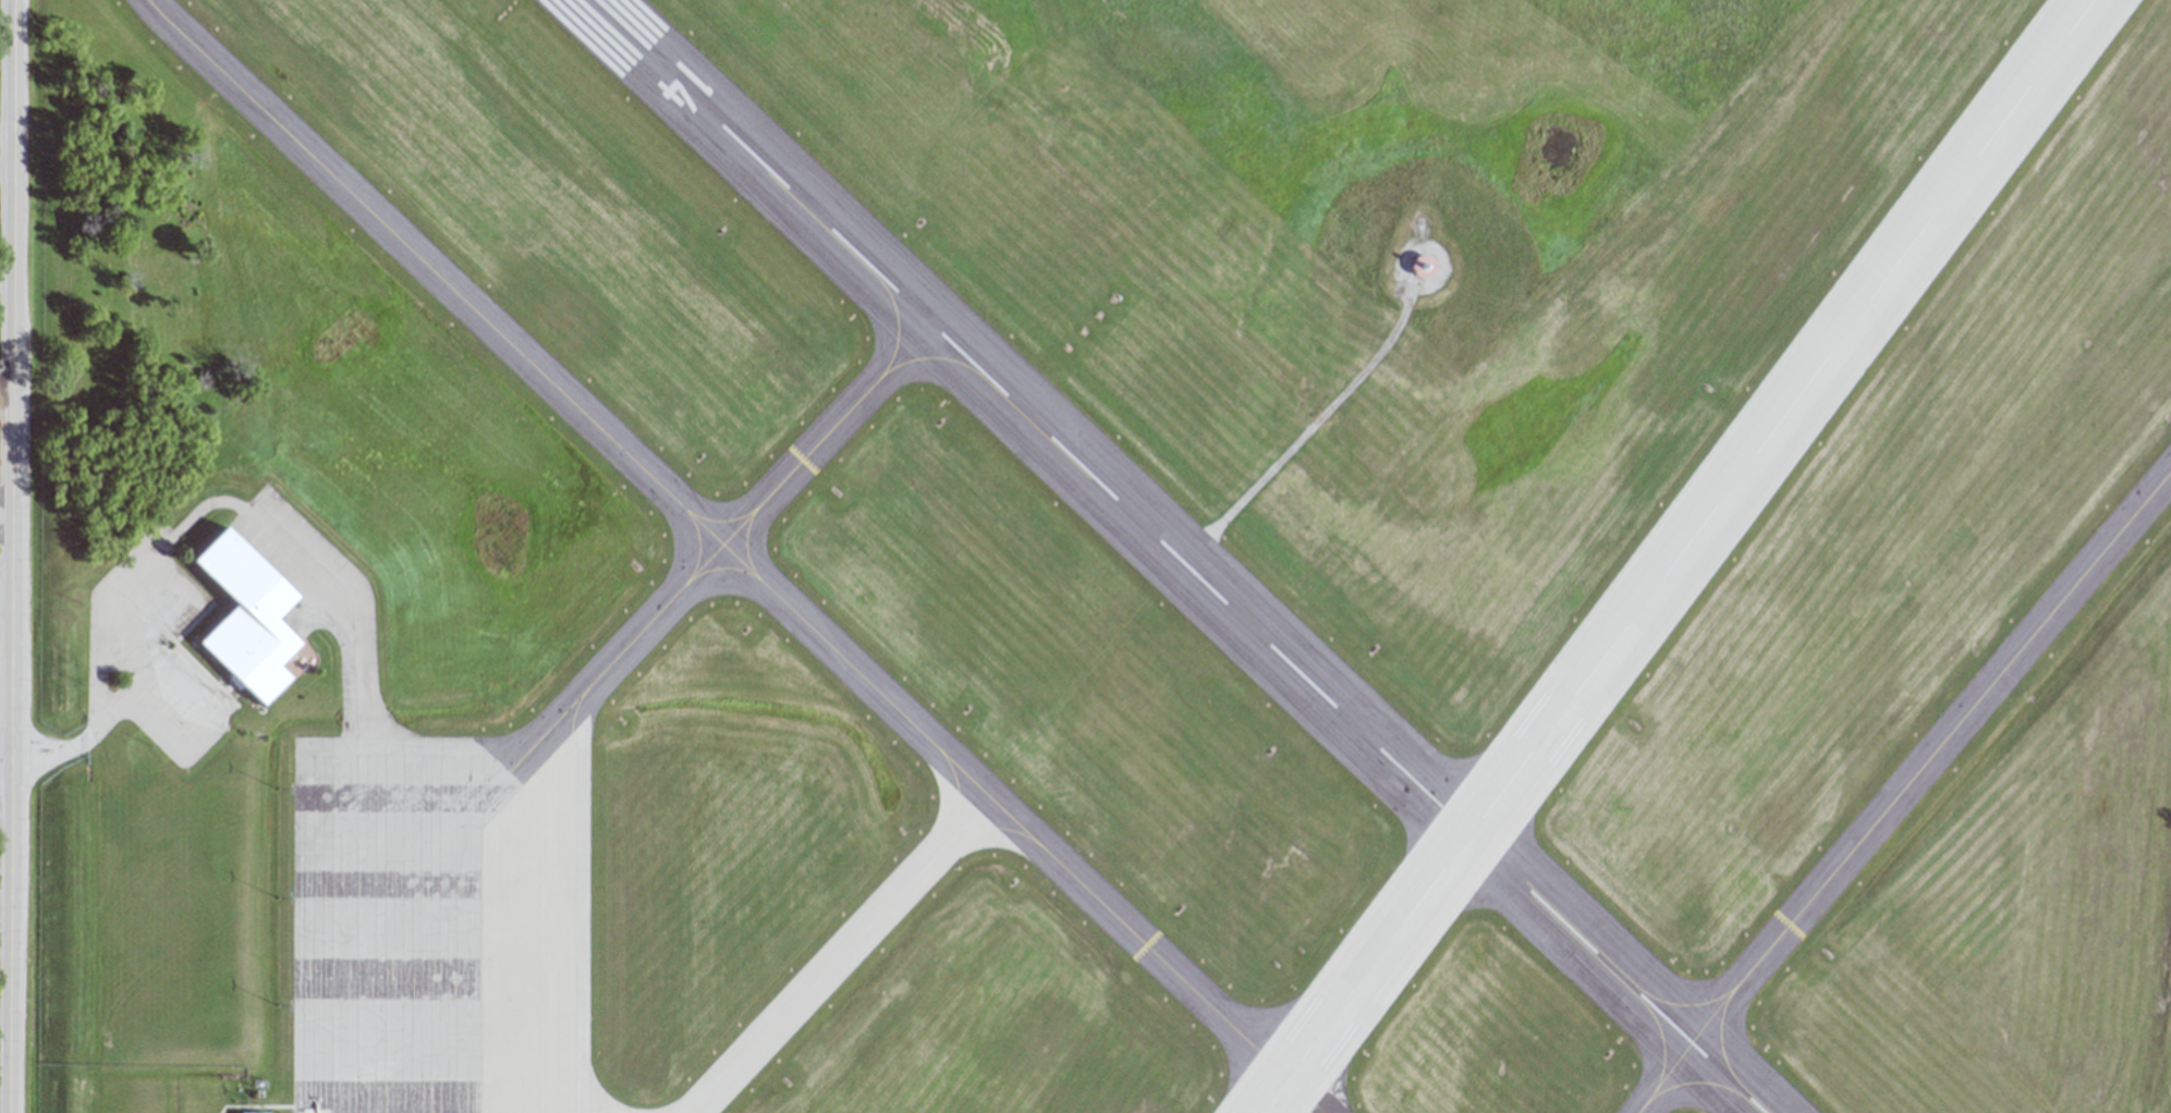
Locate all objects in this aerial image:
building: (1420, 271)
road: (3, 392)
airport taxiway: (734, 531)
road: (7, 555)
airport runway: (1172, 555)
airport runway: (1678, 555)
airport: (1106, 556)
airport taxiway: (731, 558)
airport apron: (319, 607)
building: (245, 619)
parking lot: (151, 652)
road: (59, 753)
road: (3, 756)
airport taxiway: (1900, 790)
airport apron: (437, 924)
airport taxiway: (836, 954)
building: (263, 1112)

